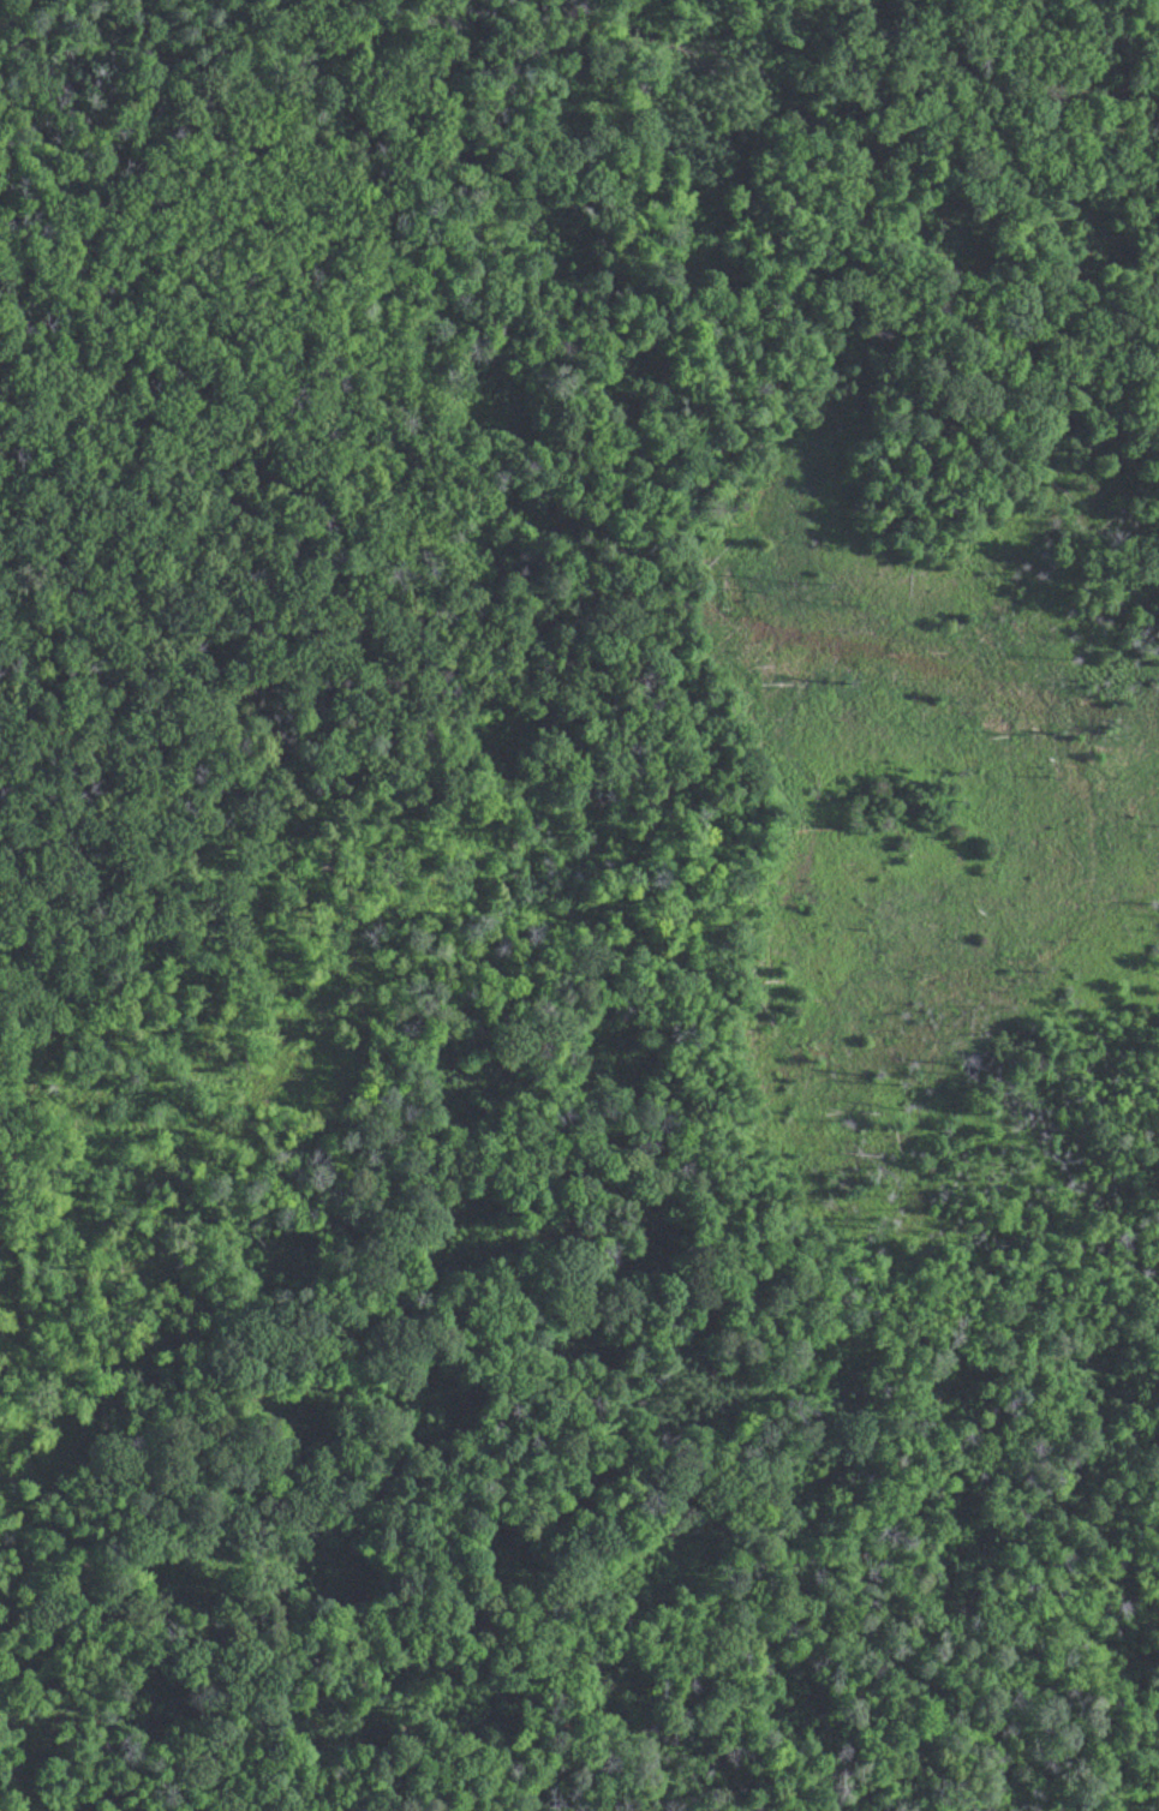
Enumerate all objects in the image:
road: (960, 102)

